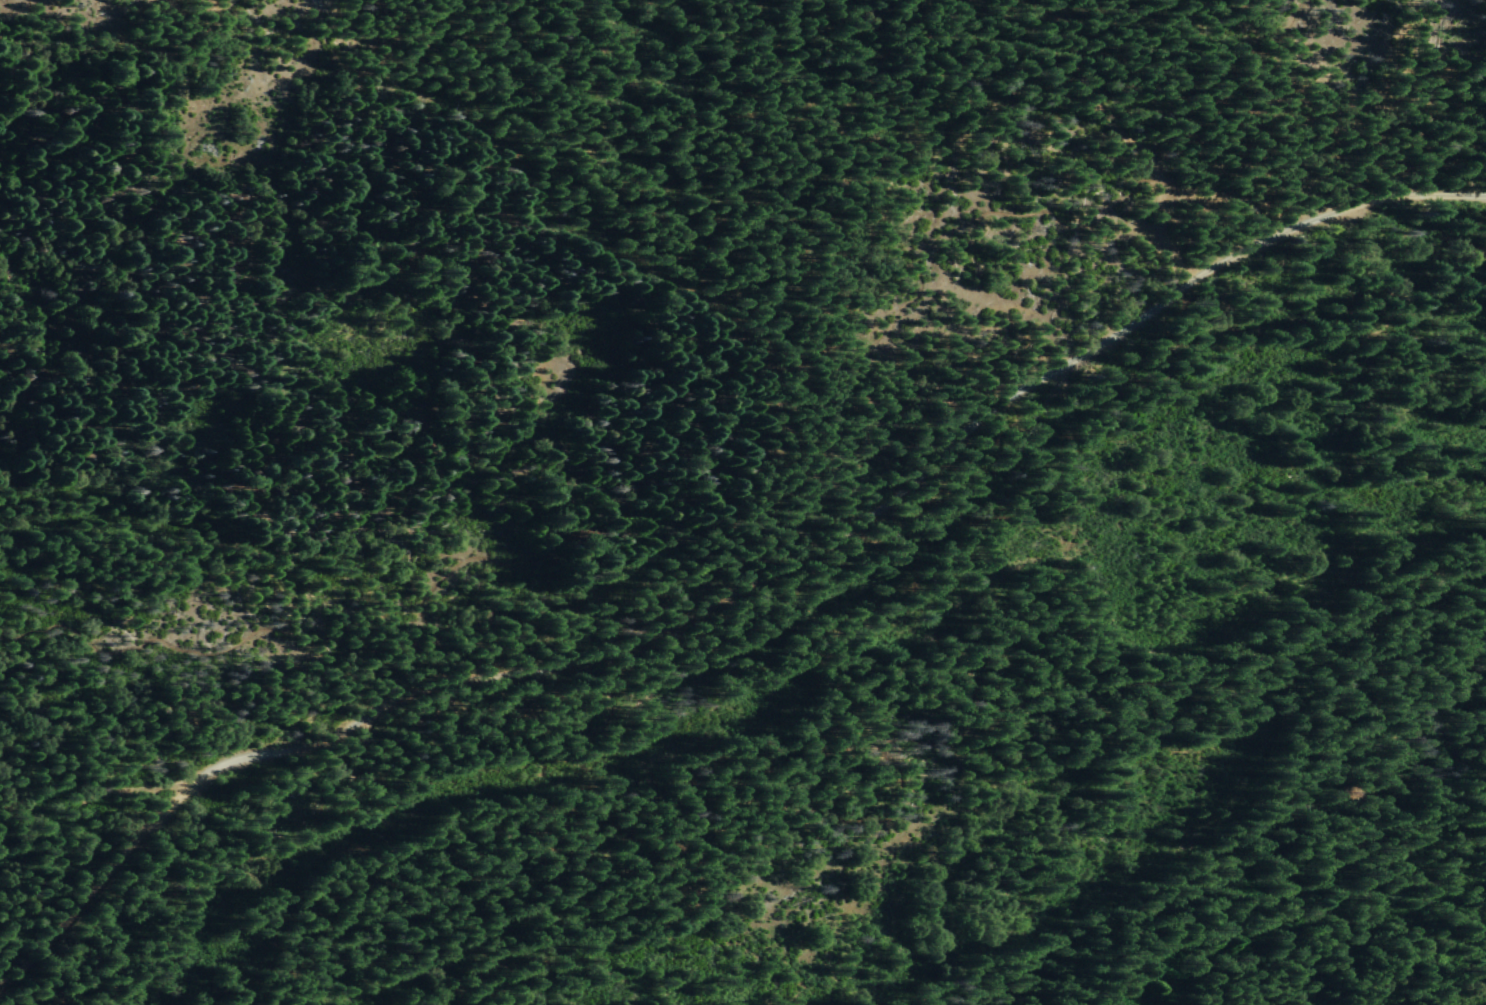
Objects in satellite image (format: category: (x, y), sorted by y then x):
road: (1212, 106)
road: (1131, 137)
road: (644, 519)
road: (742, 593)
road: (913, 739)
road: (81, 976)

